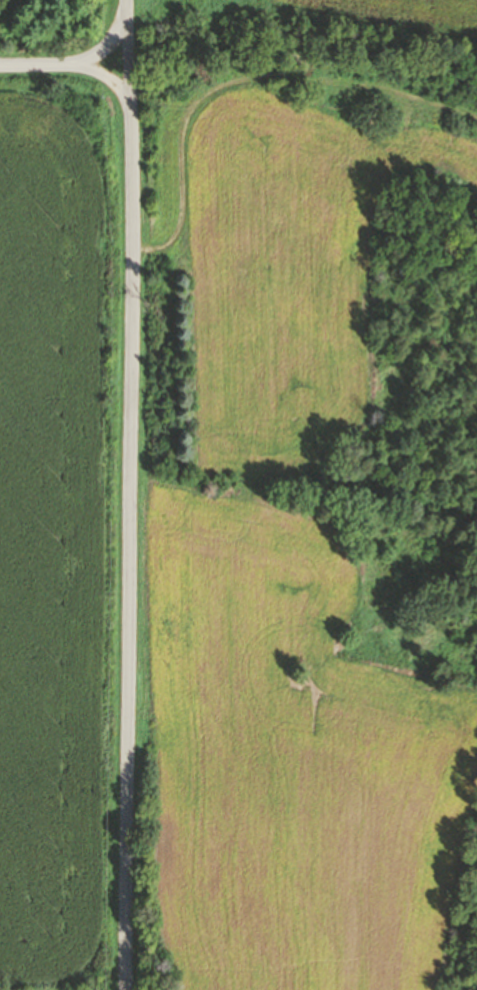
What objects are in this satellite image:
road: (107, 46)
road: (70, 64)
road: (238, 74)
road: (128, 495)

